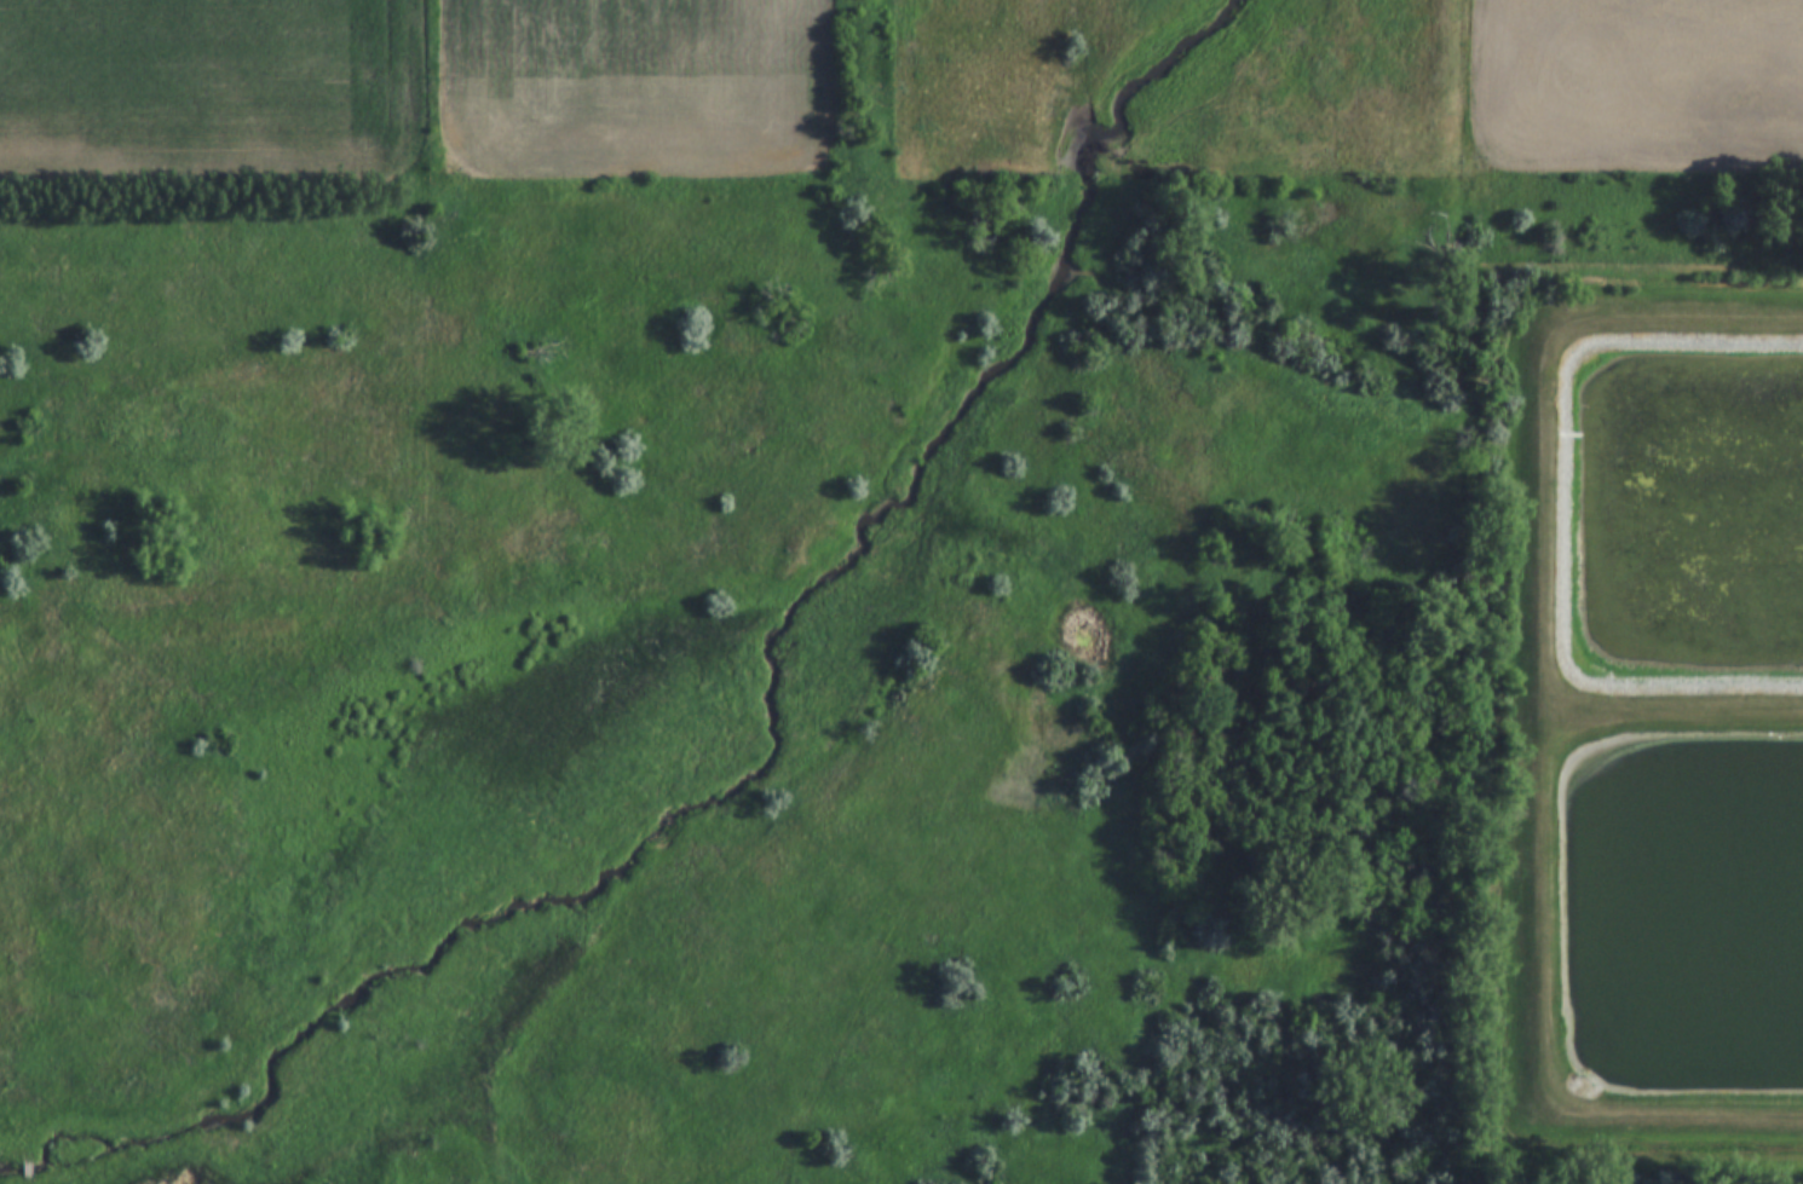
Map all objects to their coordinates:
road: (1009, 710)
road: (1537, 714)
road: (1670, 714)

